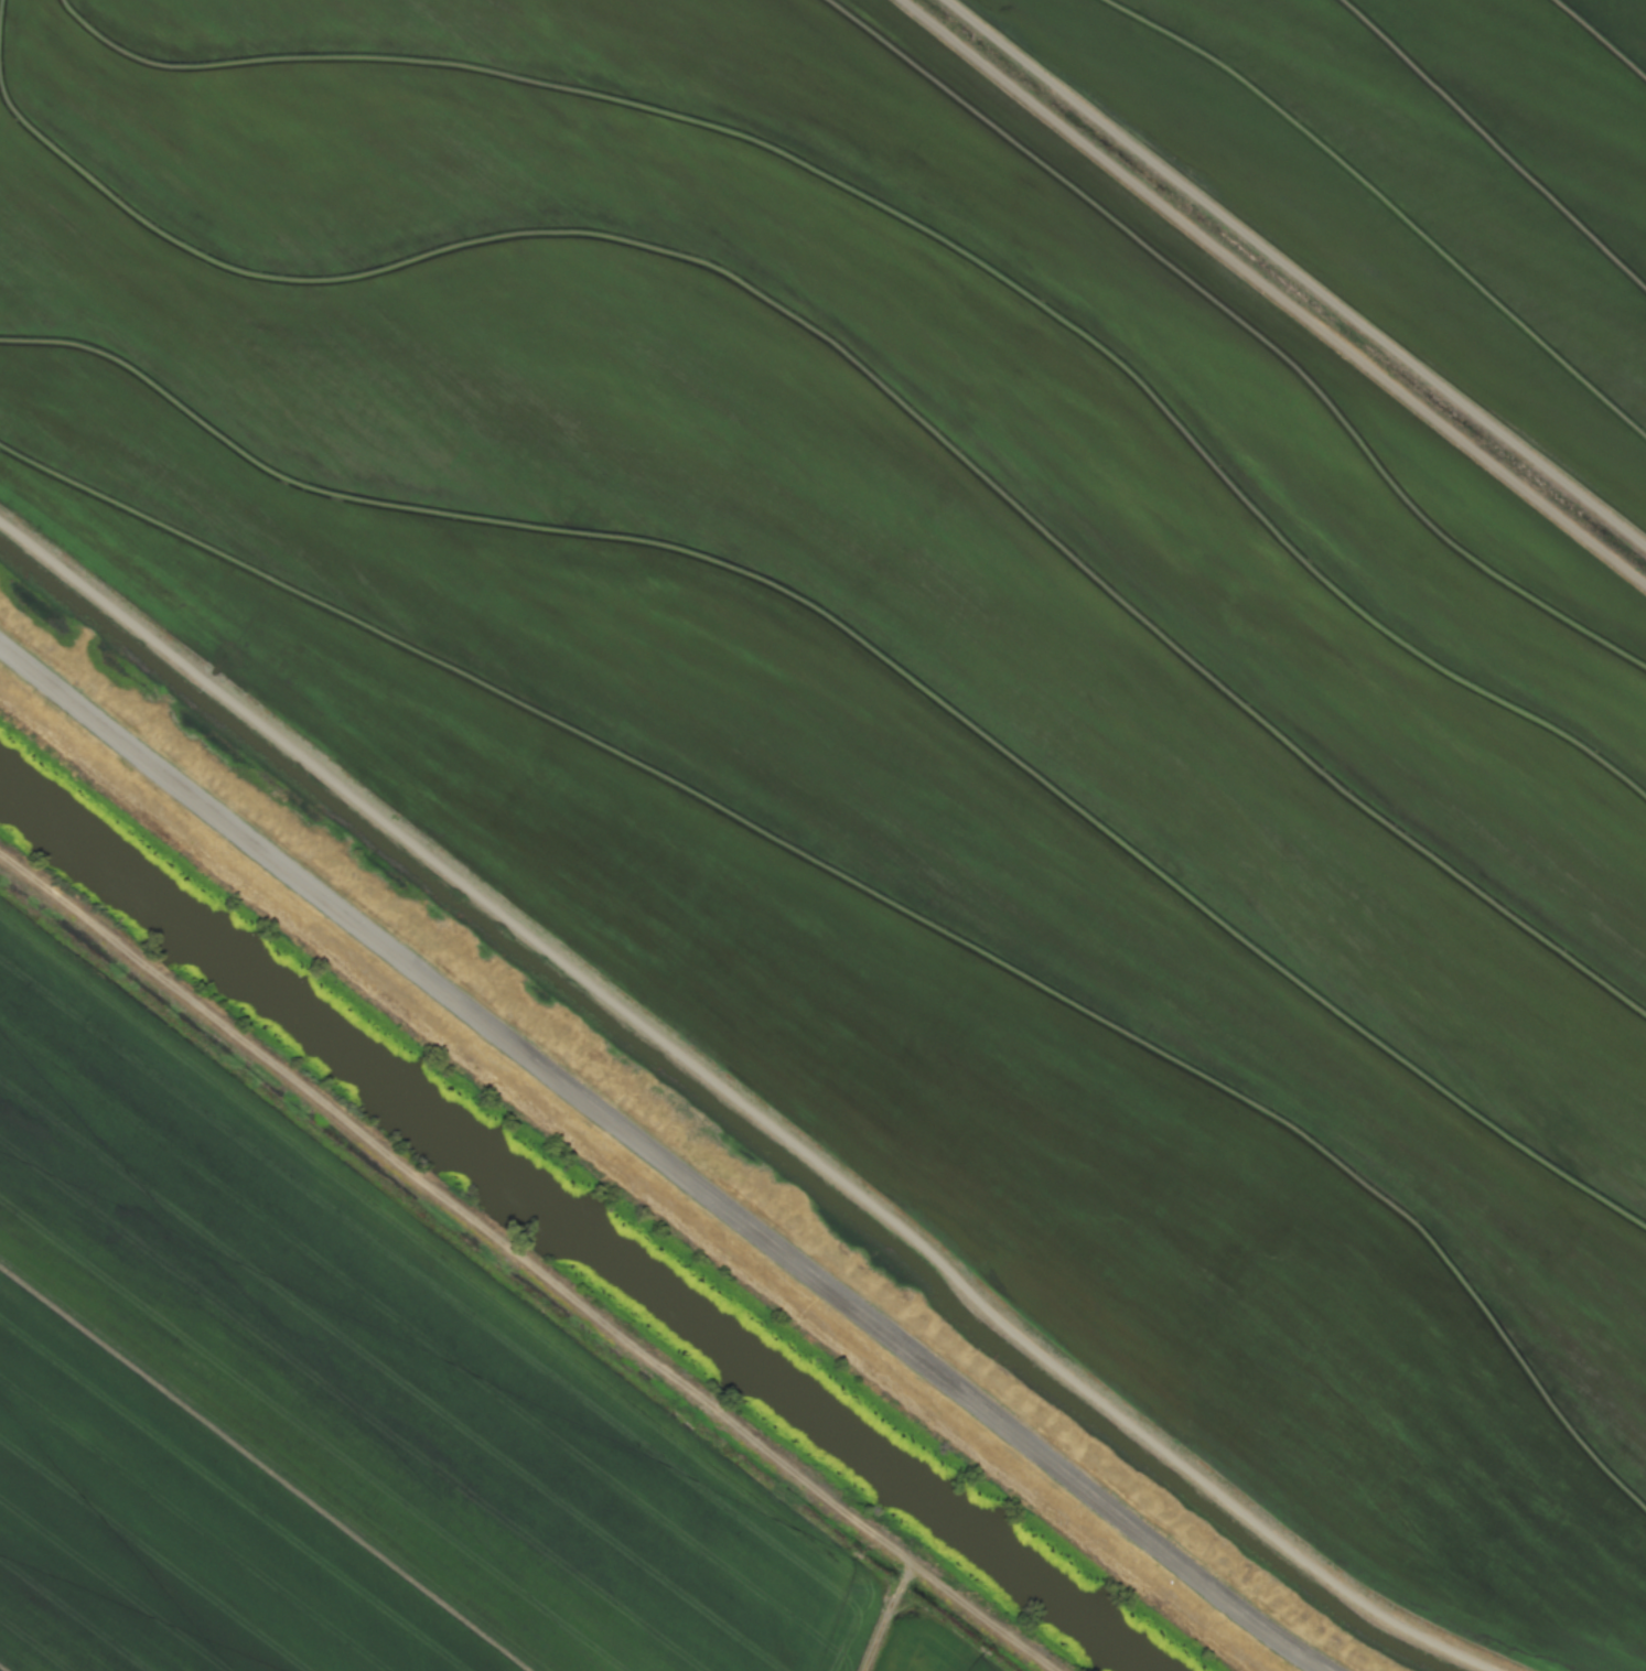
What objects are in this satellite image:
crop: (953, 660)
road: (660, 1160)

